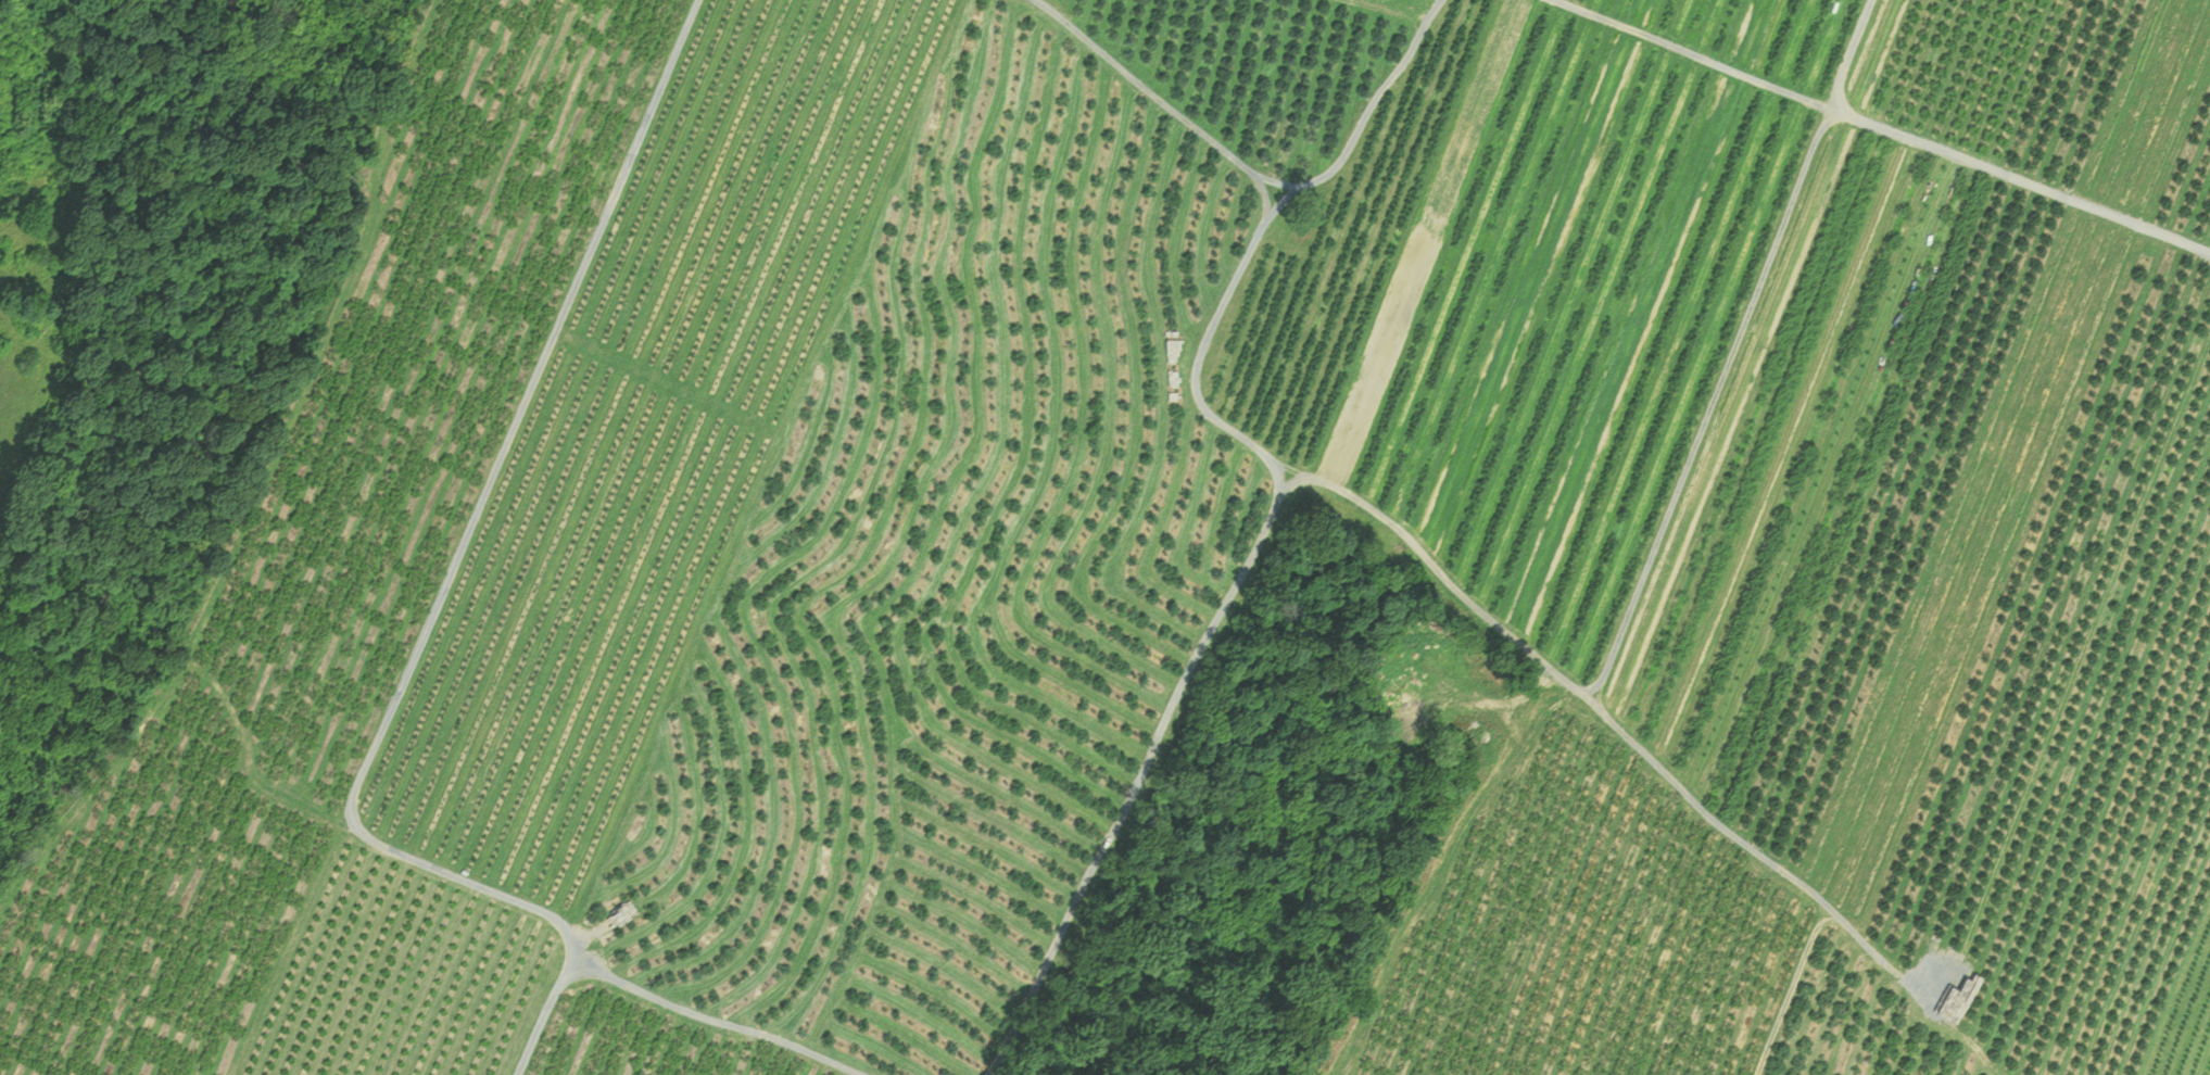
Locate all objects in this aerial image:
road: (1967, 156)

